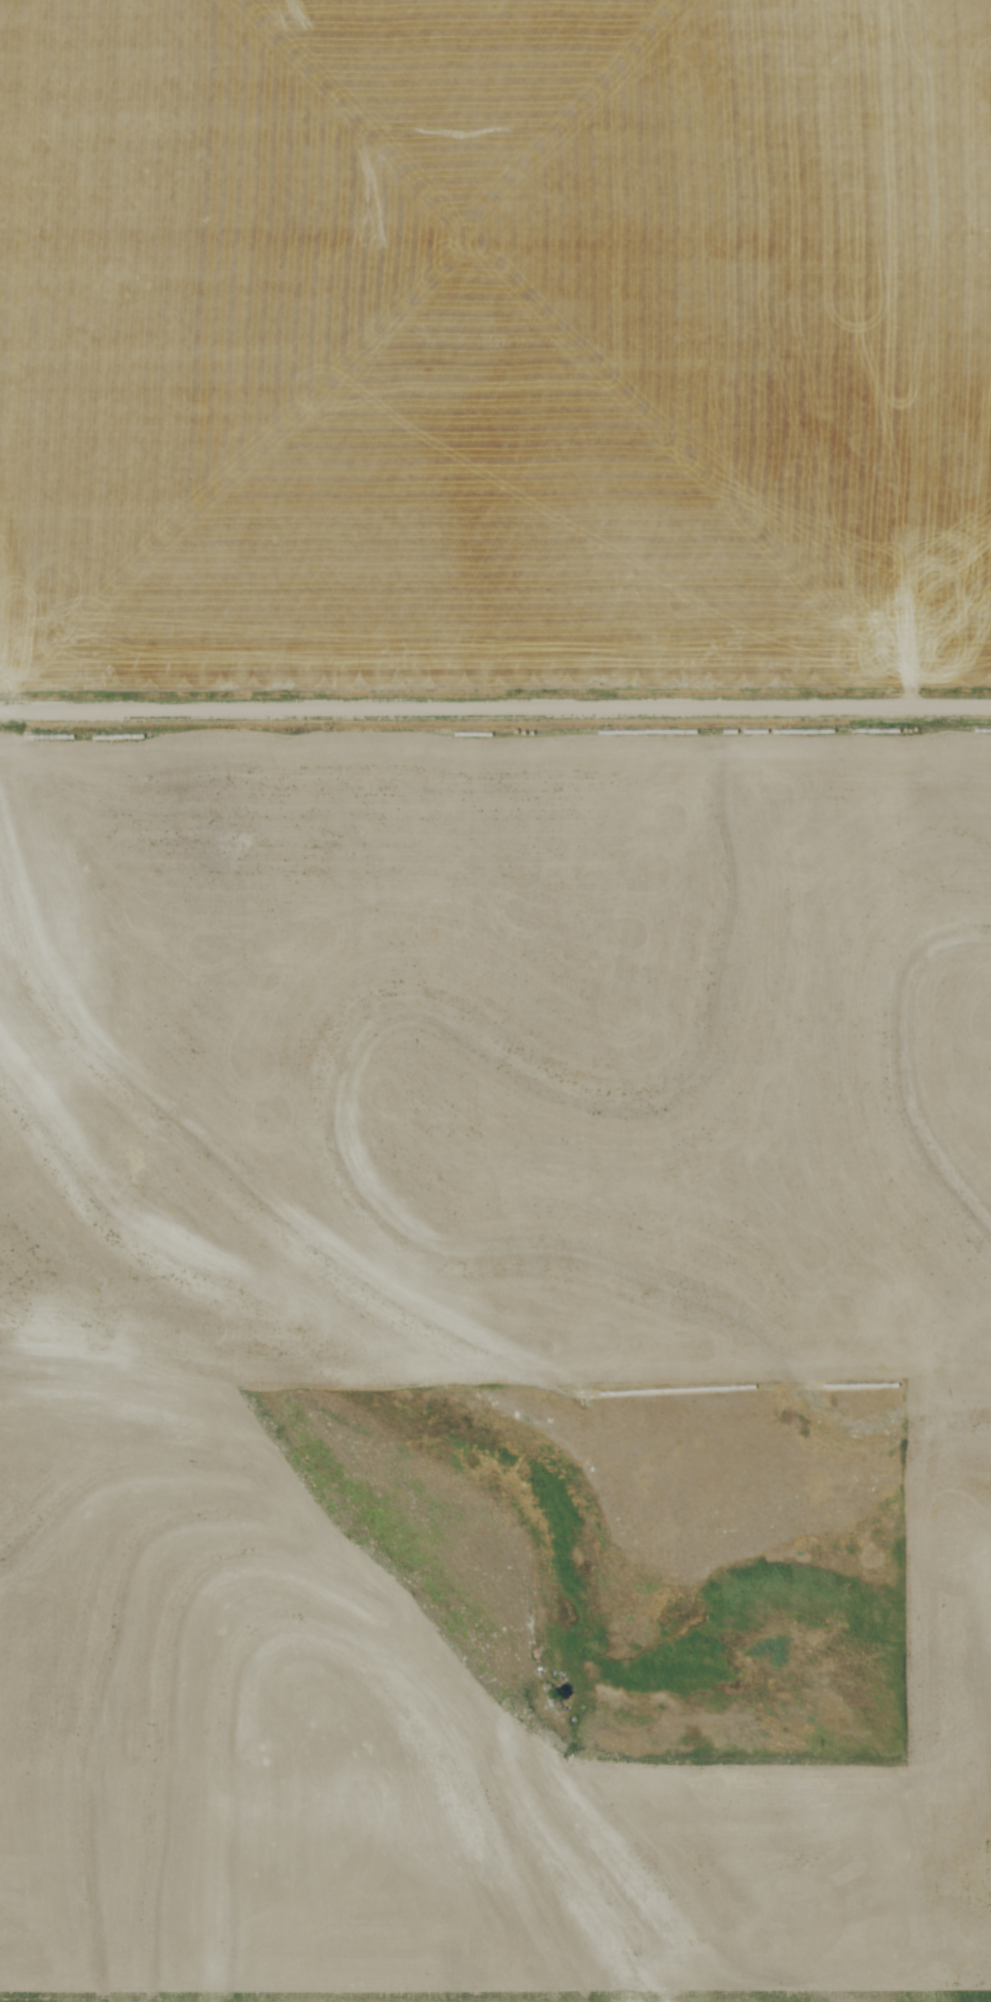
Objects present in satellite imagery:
road: (495, 709)

